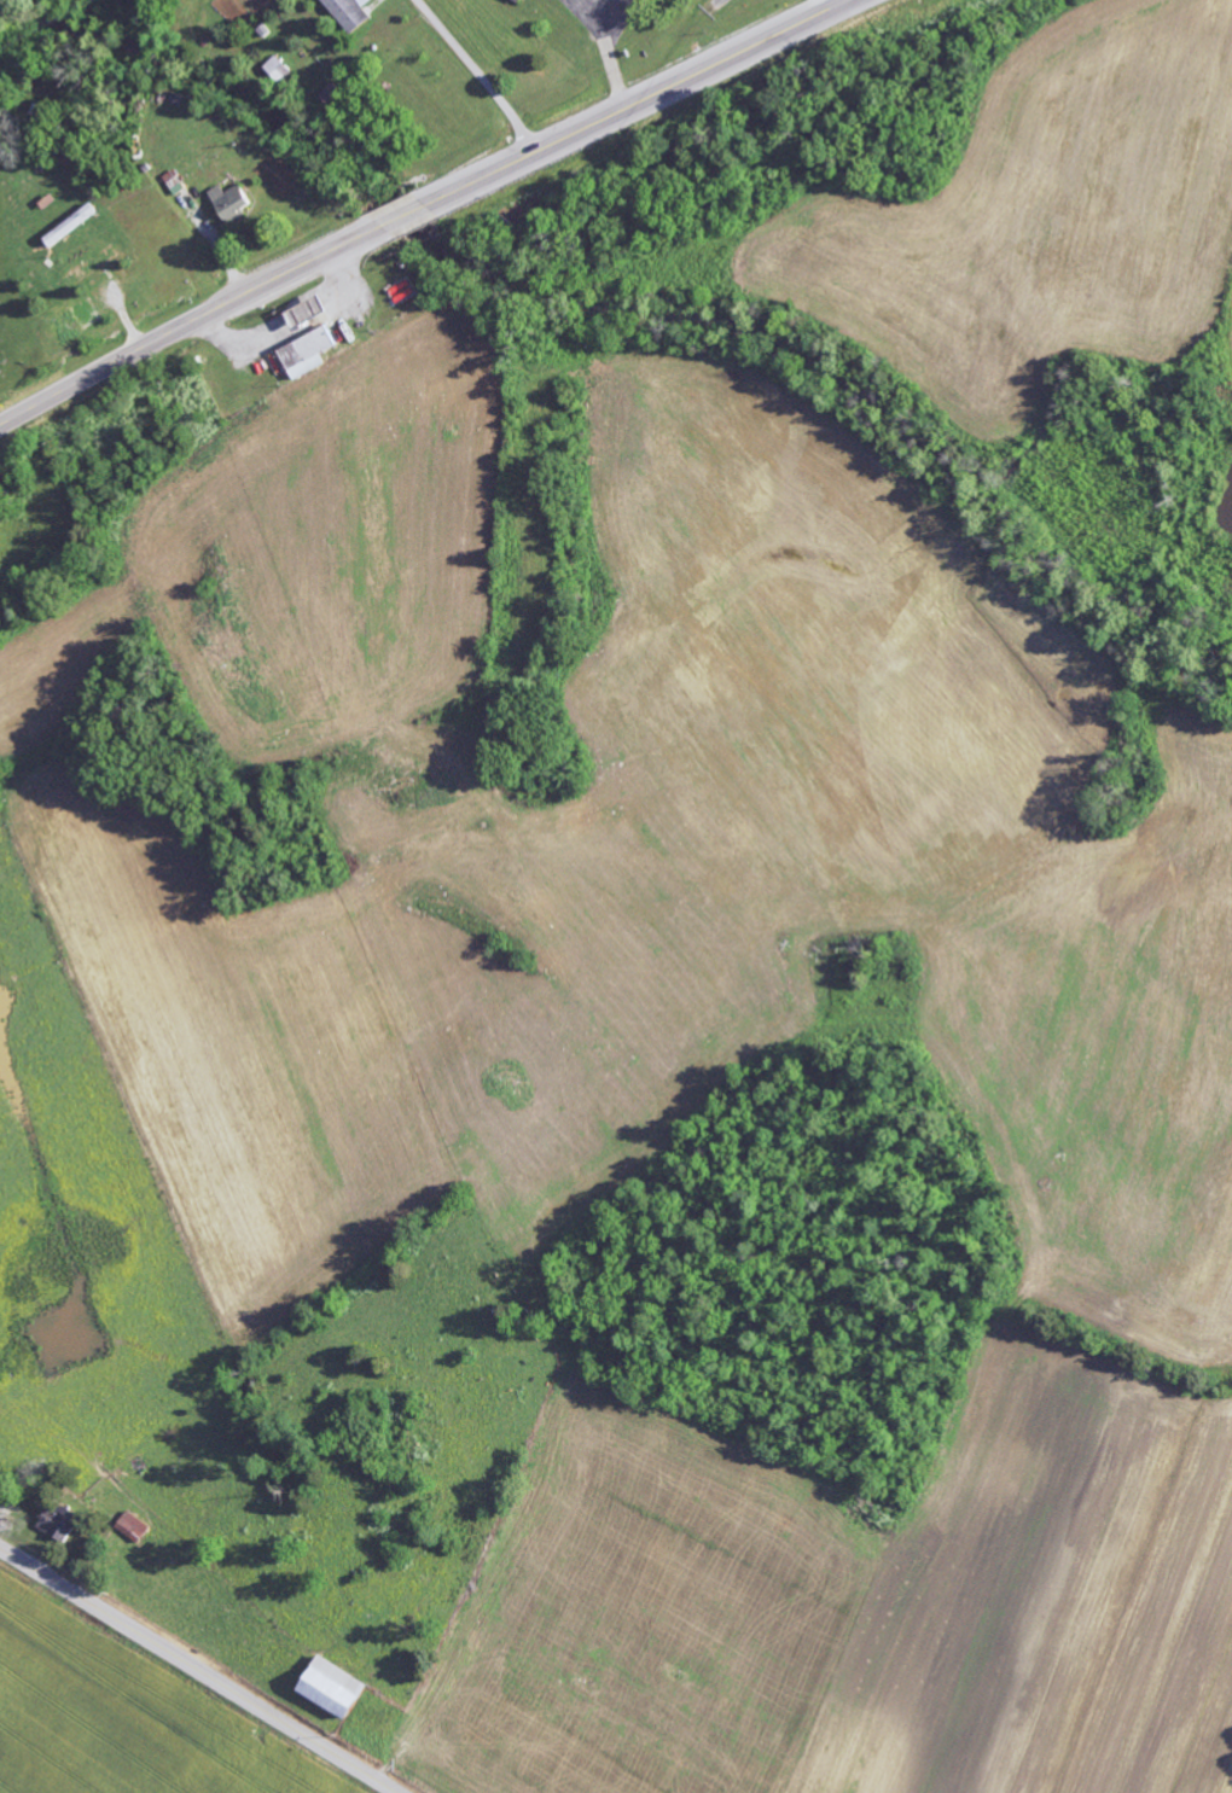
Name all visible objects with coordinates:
building: (519, 0)
road: (848, 0)
building: (350, 13)
building: (279, 70)
road: (481, 74)
road: (638, 103)
building: (236, 202)
road: (405, 215)
building: (91, 315)
road: (190, 322)
building: (310, 354)
building: (60, 1525)
building: (134, 1527)
road: (197, 1670)
building: (335, 1687)

